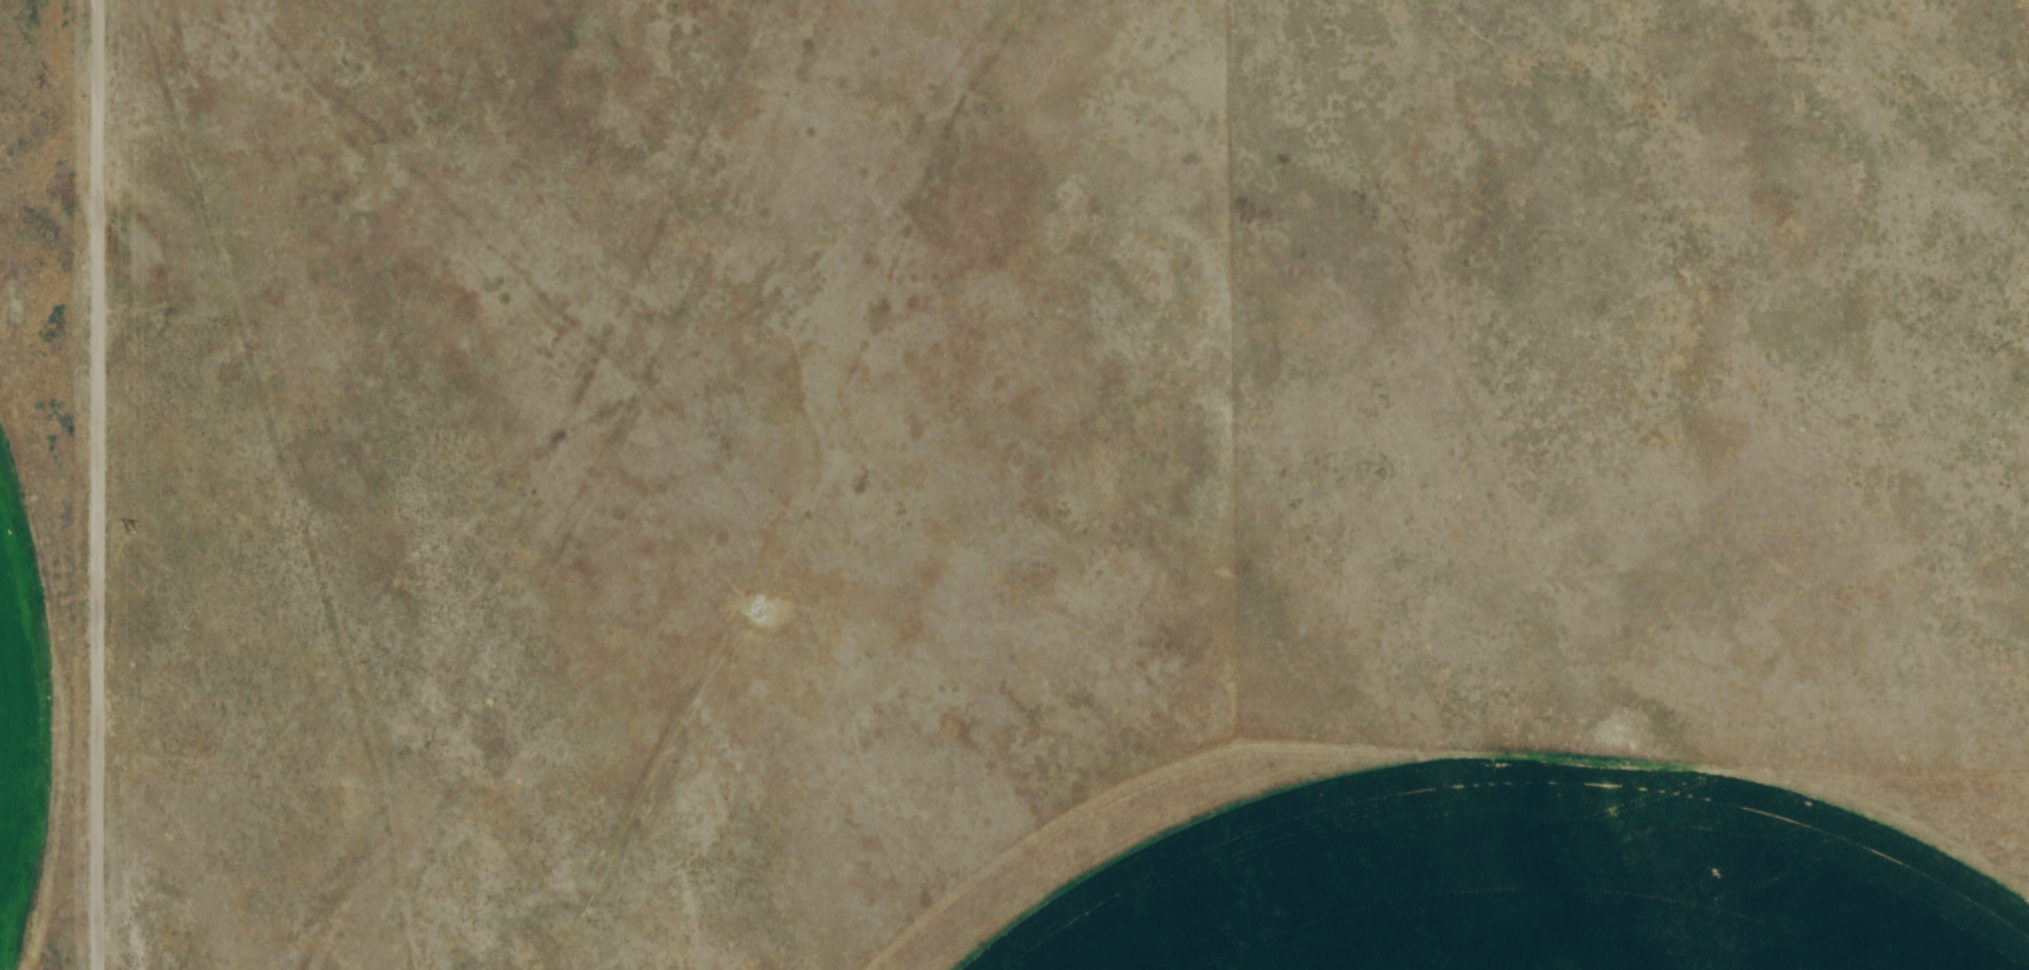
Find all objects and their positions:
power tower: (130, 535)
crop: (18, 704)
crop: (1526, 883)

